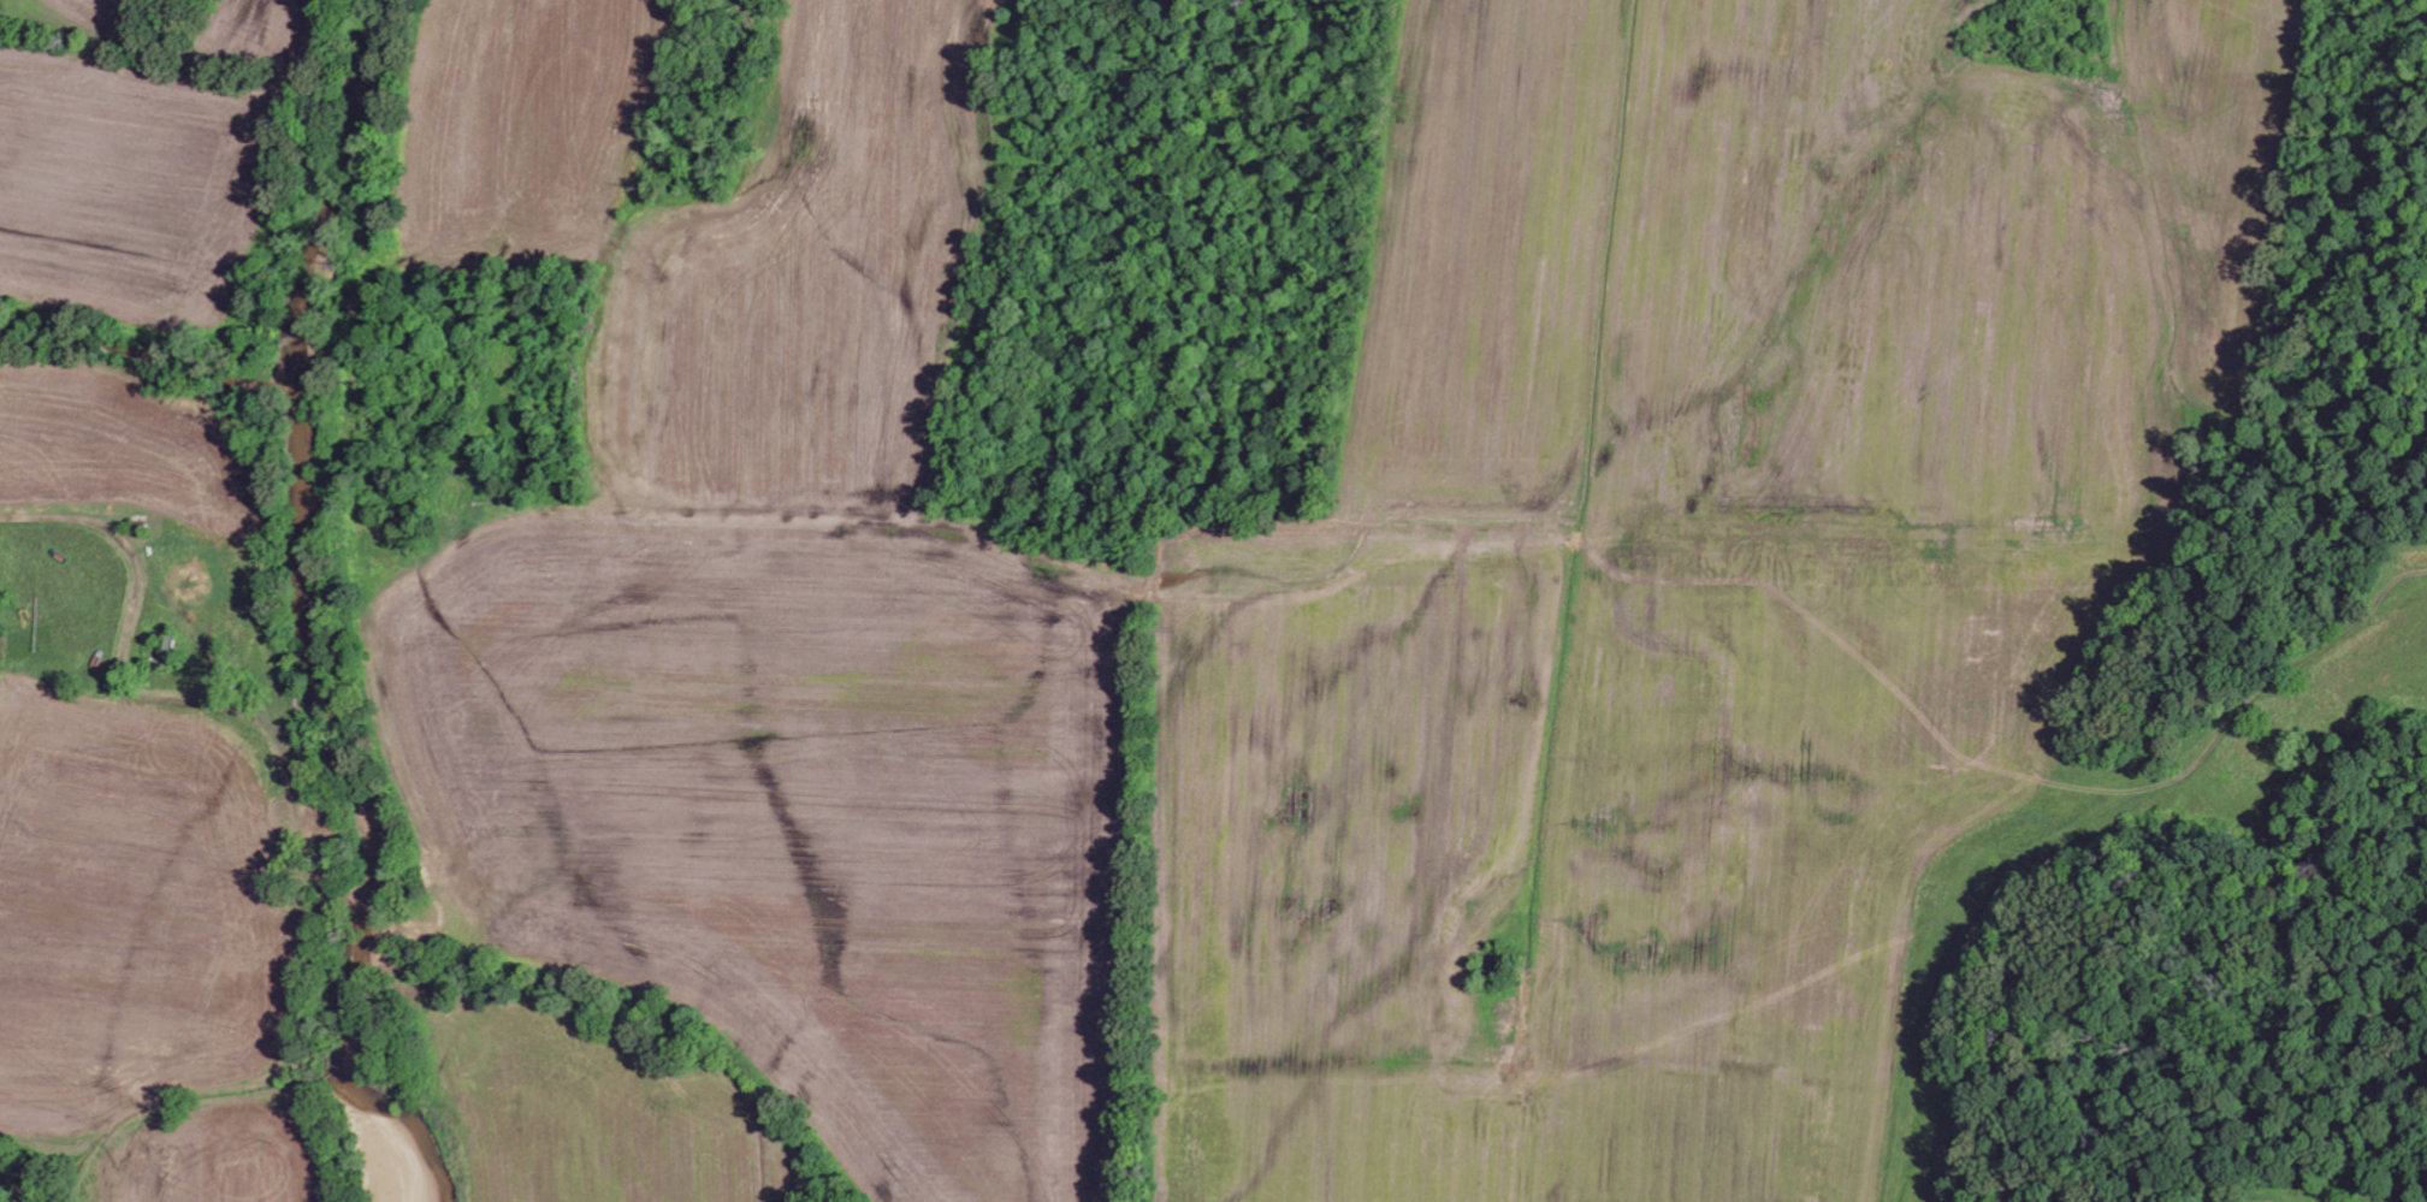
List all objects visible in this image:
road: (108, 456)

